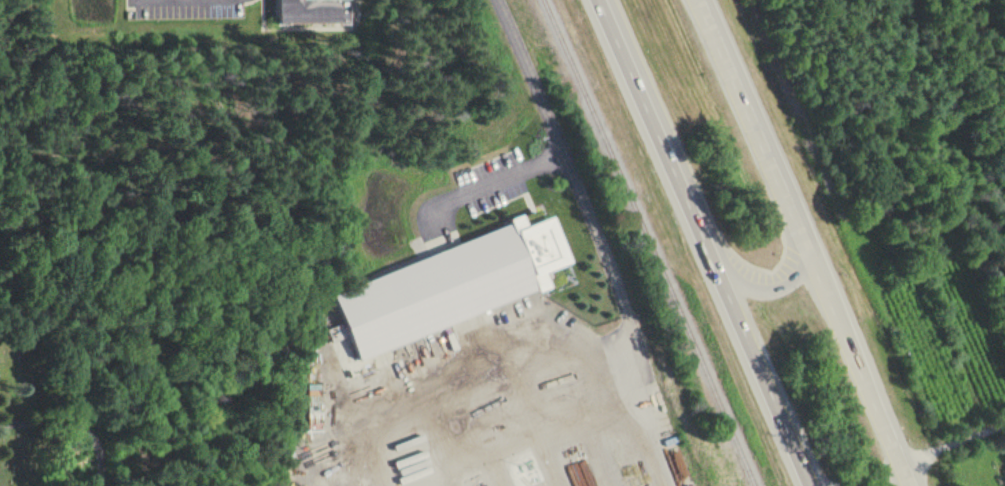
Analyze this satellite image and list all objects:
building: (313, 11)
road: (563, 151)
railway: (648, 242)
road: (706, 242)
road: (800, 243)
road: (615, 272)
building: (450, 285)
road: (768, 291)
road: (75, 421)
park: (94, 438)
road: (951, 441)

